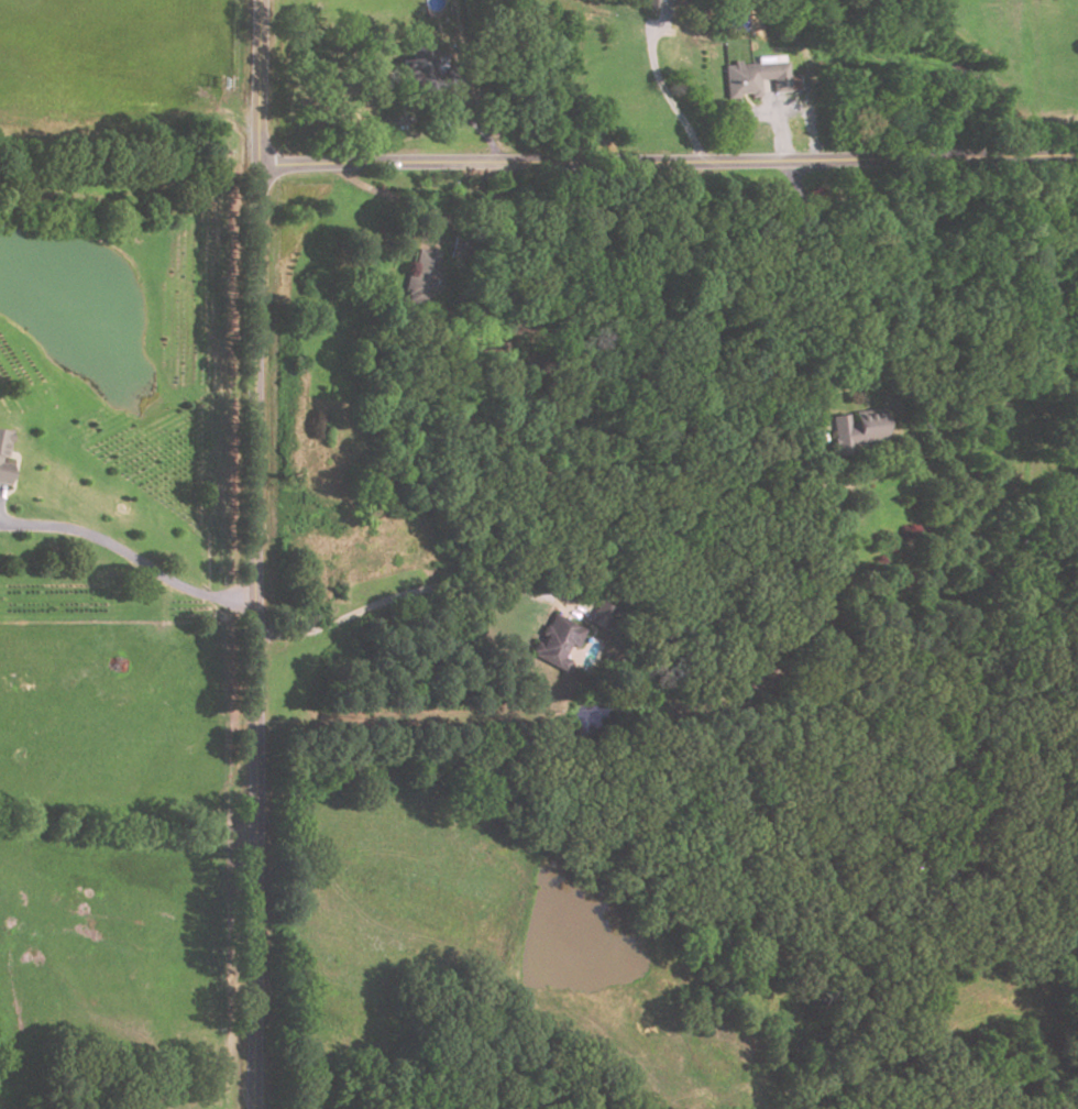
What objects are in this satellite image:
building: (648, 2)
building: (430, 73)
building: (759, 76)
road: (668, 96)
road: (474, 124)
road: (669, 163)
road: (395, 199)
building: (425, 281)
building: (857, 430)
building: (4, 455)
road: (254, 553)
road: (131, 560)
road: (417, 592)
building: (602, 614)
building: (557, 640)

